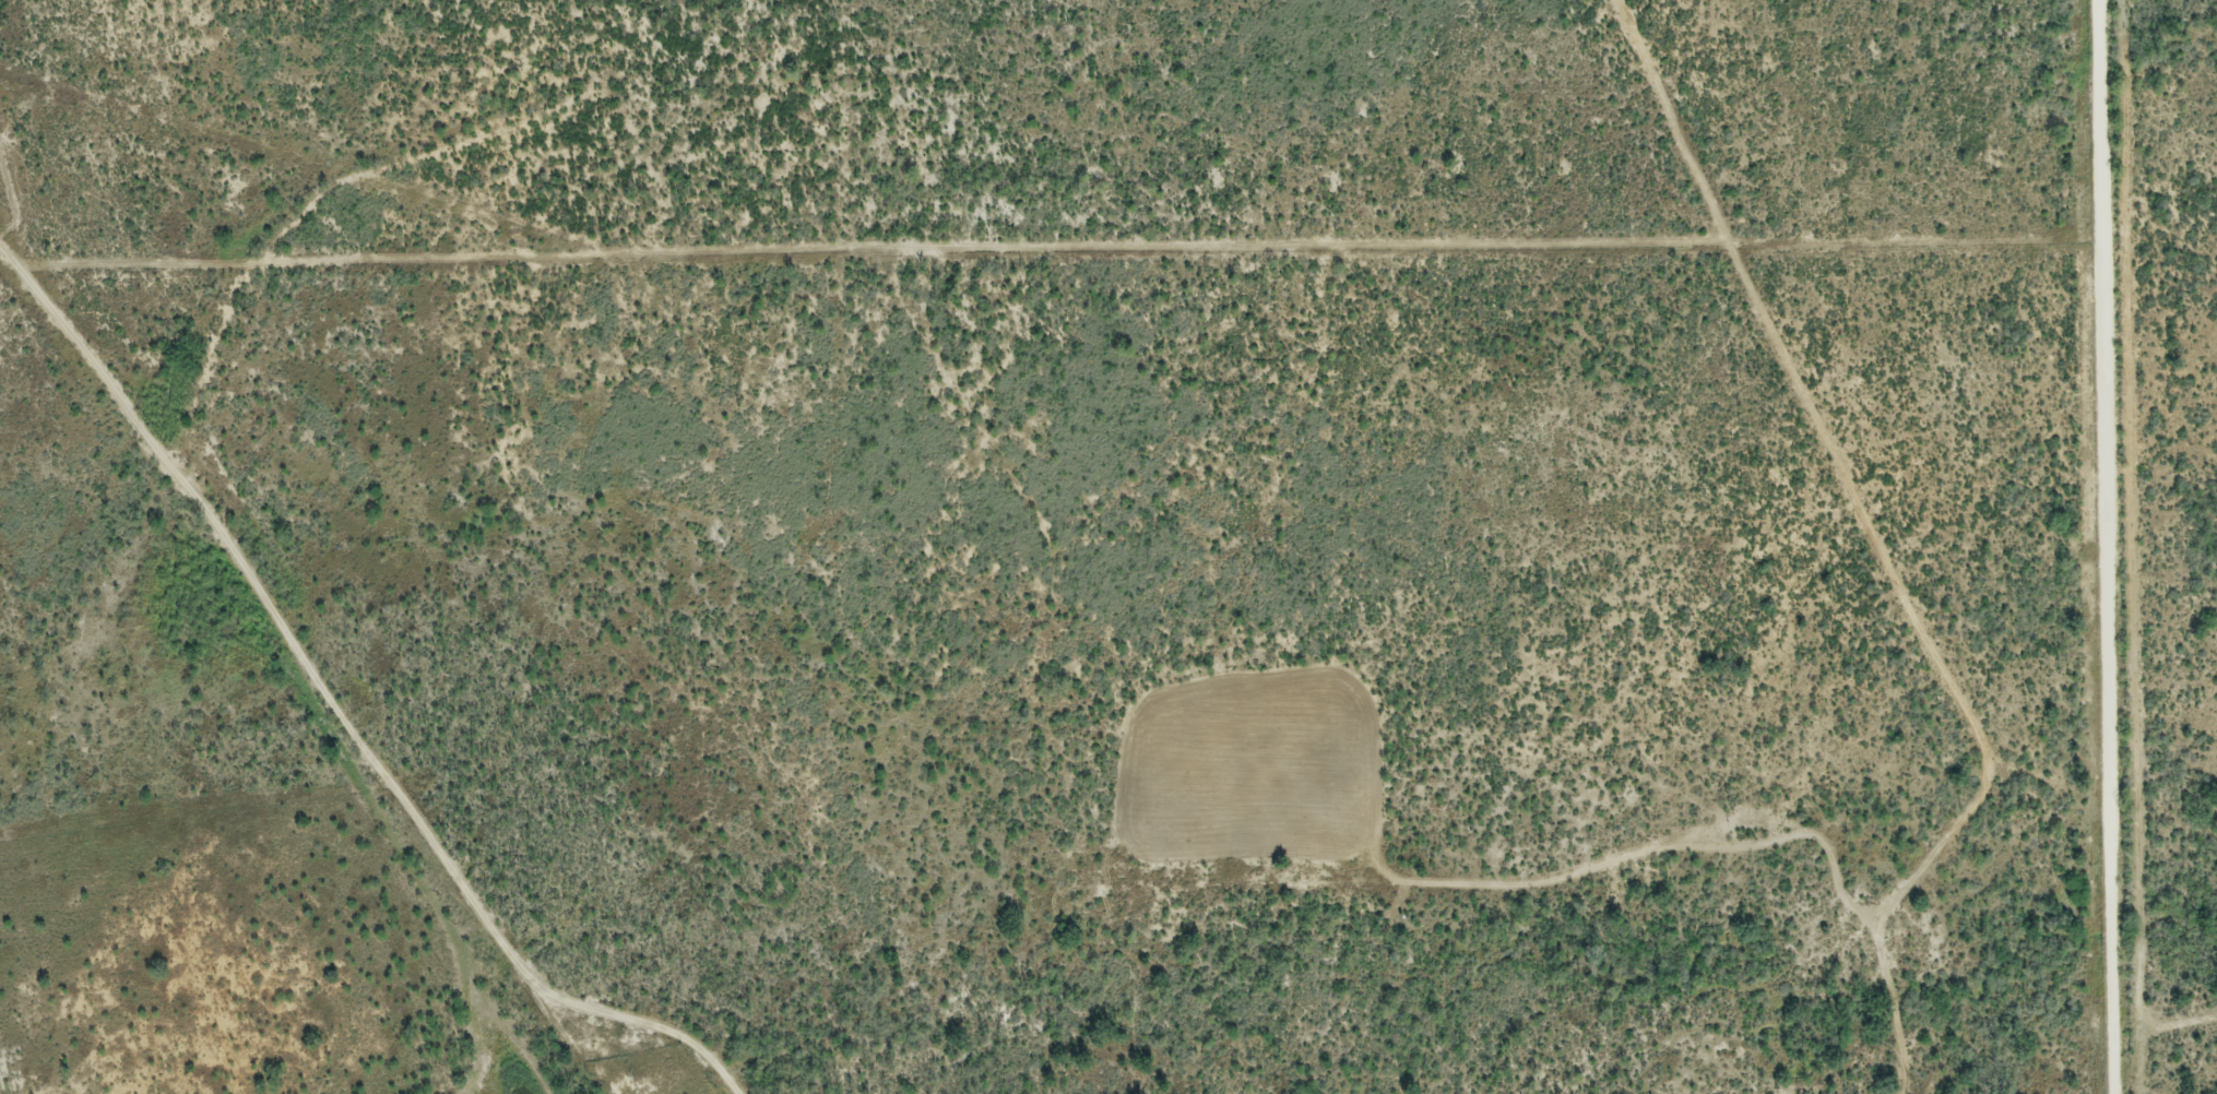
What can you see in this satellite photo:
road: (2109, 546)

